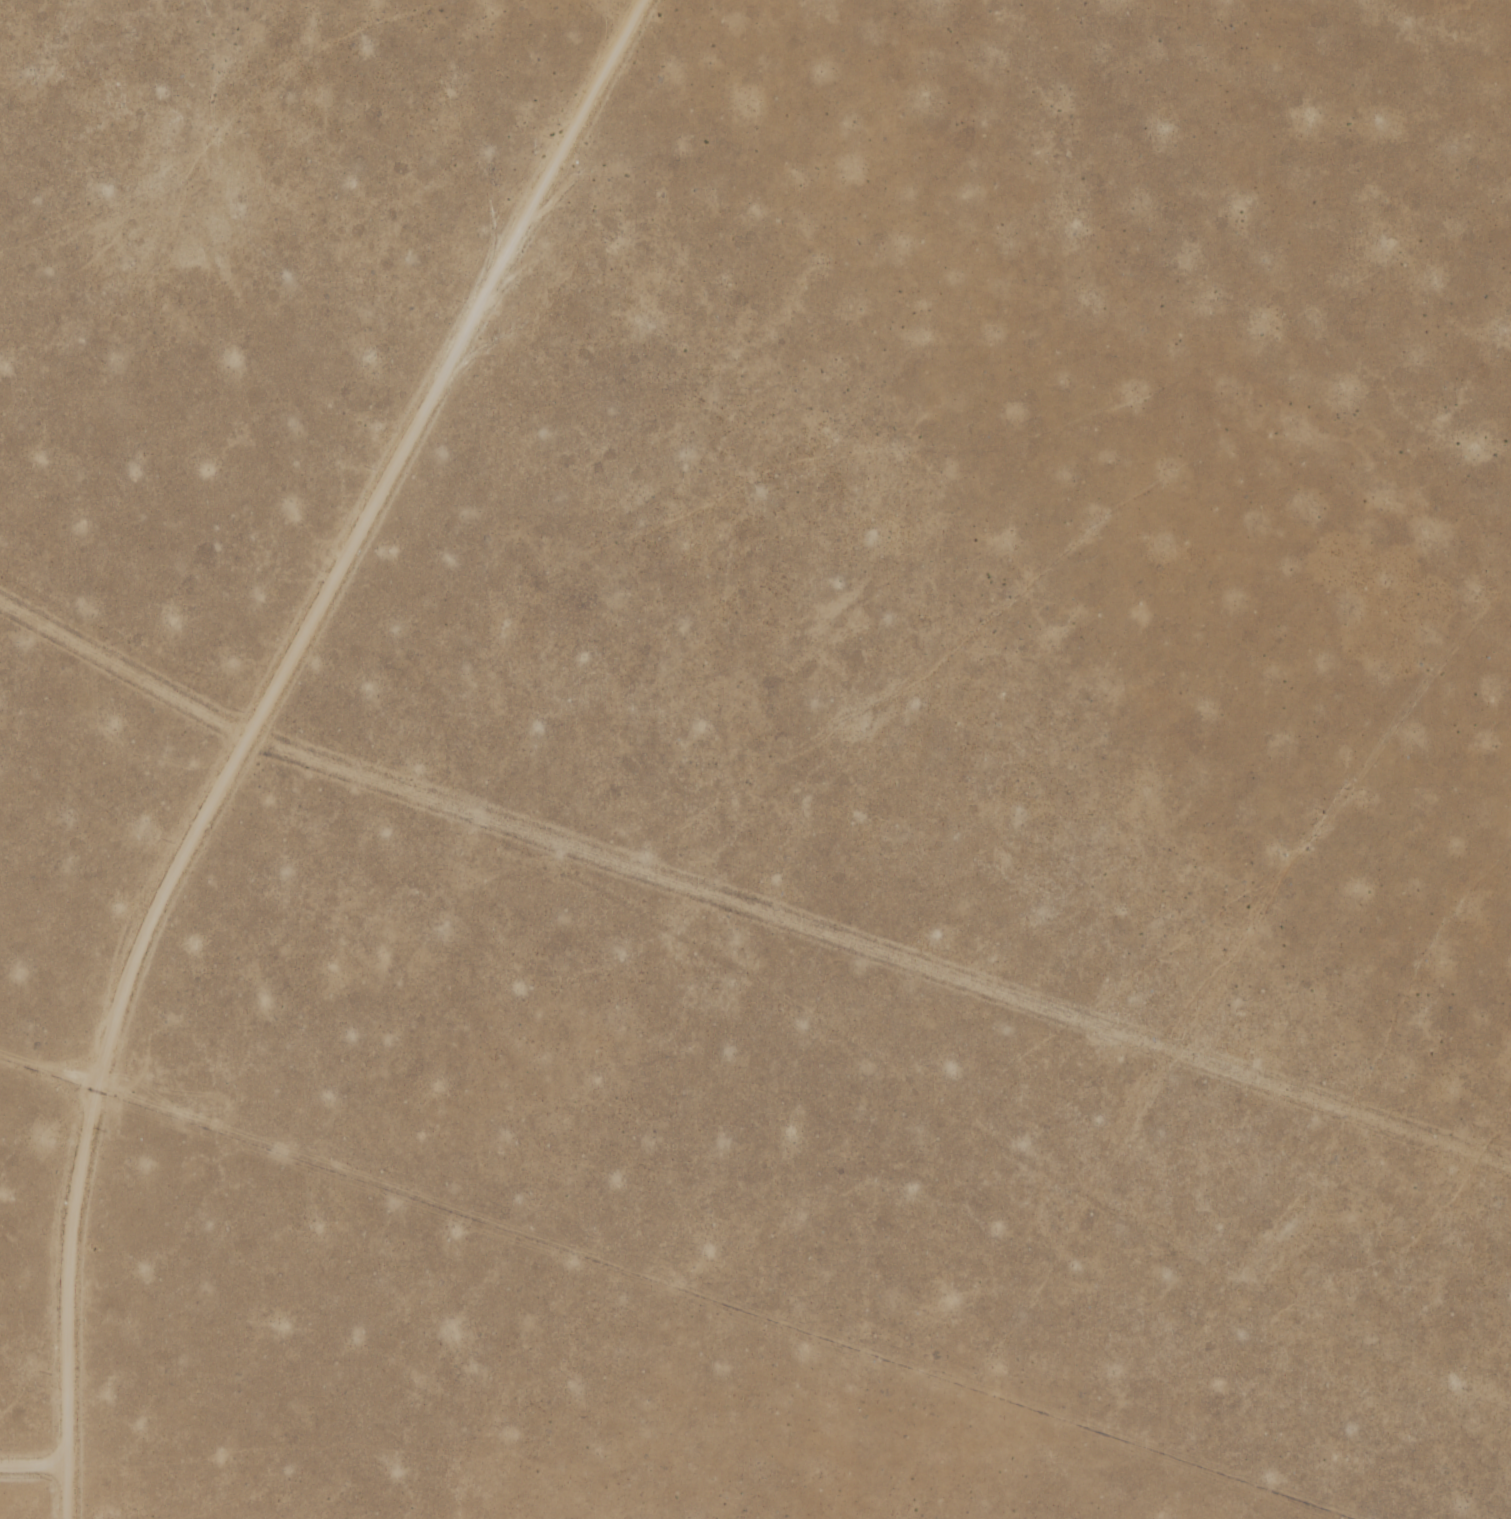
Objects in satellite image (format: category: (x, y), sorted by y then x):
road: (617, 8)
road: (124, 668)
road: (251, 730)
road: (880, 949)
road: (46, 1072)
road: (26, 1452)

